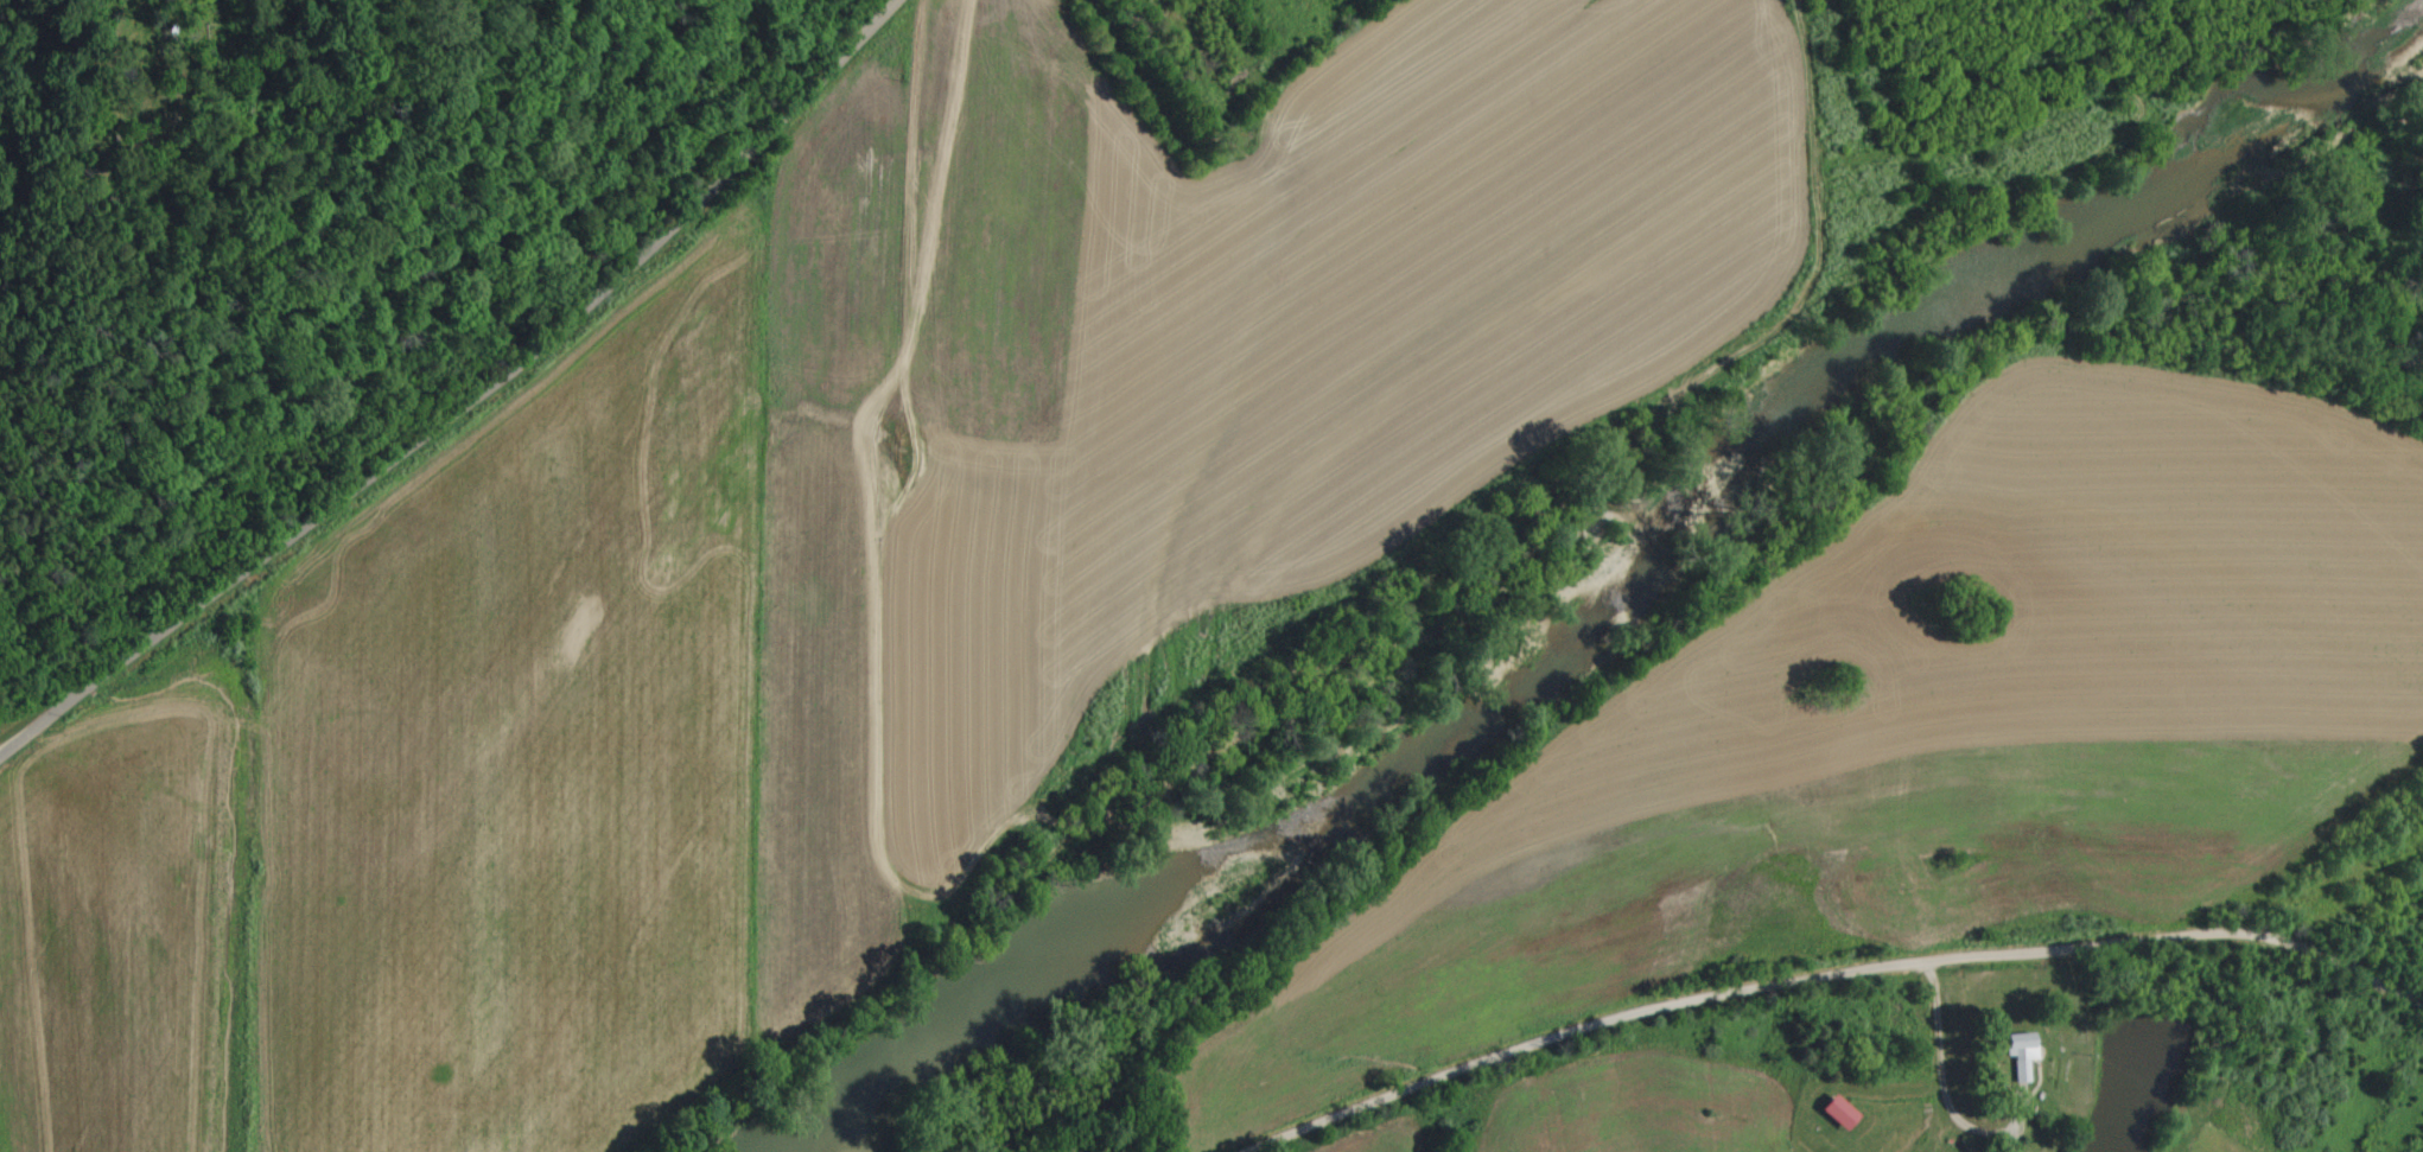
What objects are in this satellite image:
road: (464, 395)
crop: (853, 562)
river: (1607, 571)
crop: (1944, 827)
road: (1833, 975)
building: (2017, 1058)
road: (1958, 1086)
building: (1832, 1113)

